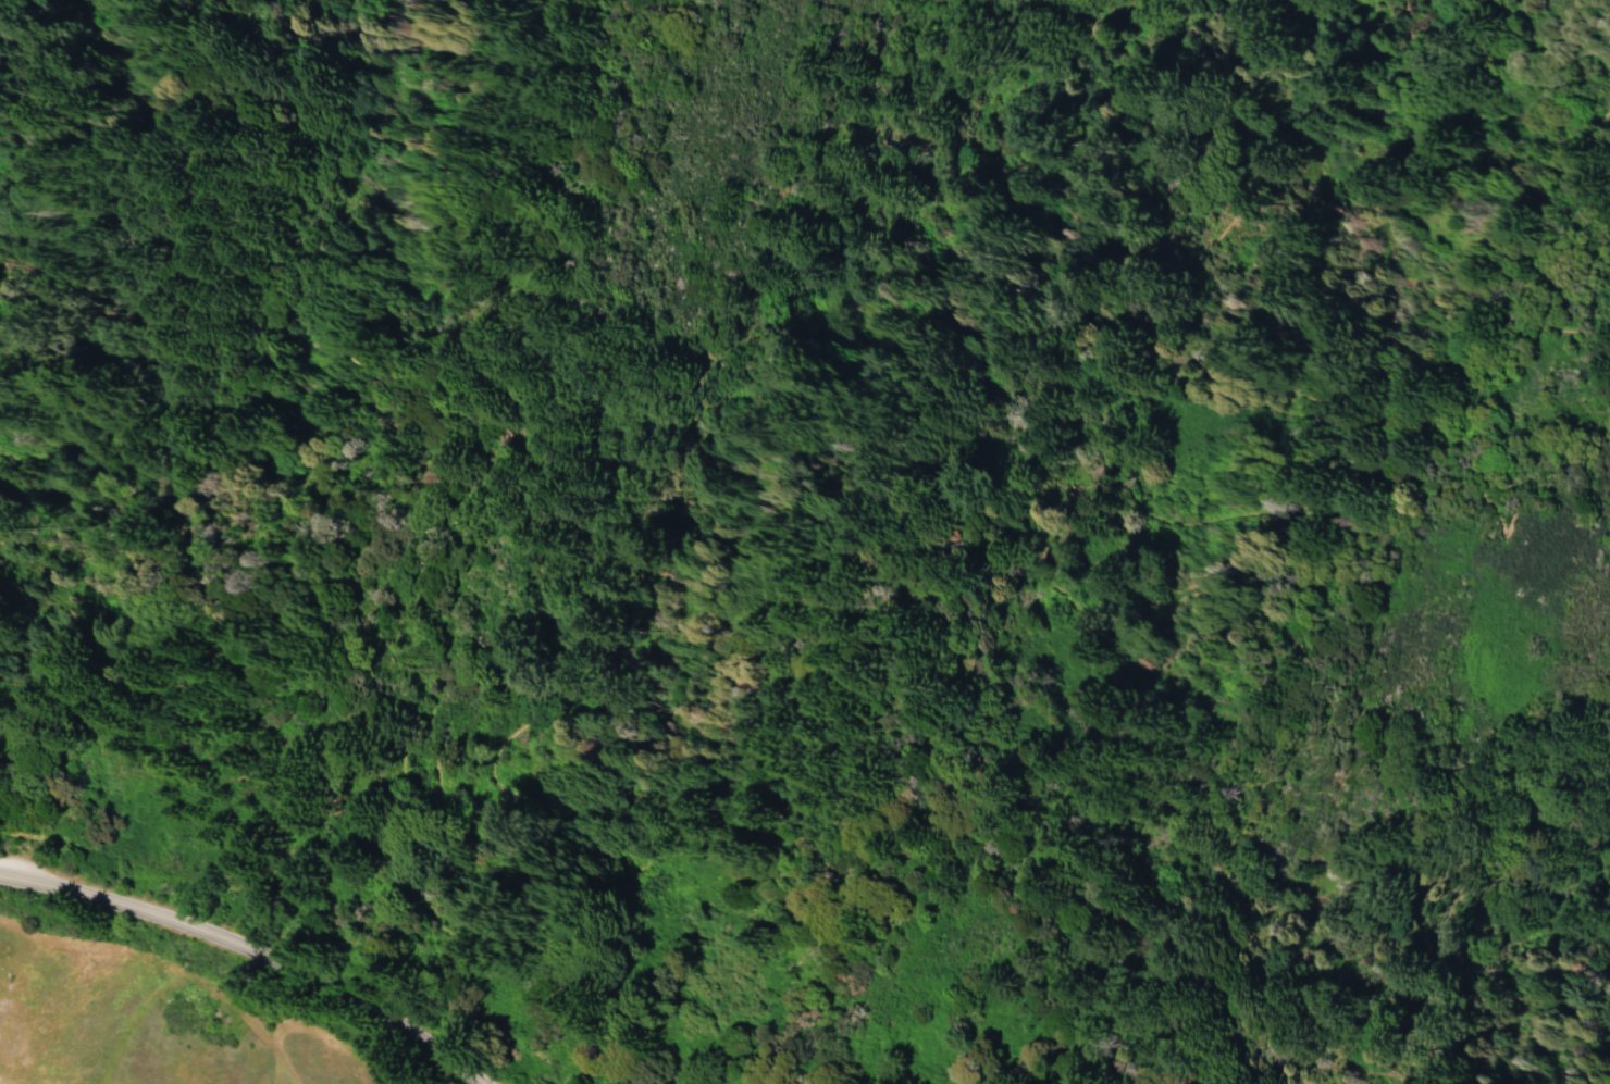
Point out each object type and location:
road: (1568, 148)
road: (507, 223)
road: (1503, 278)
road: (1361, 531)
road: (410, 690)
road: (251, 951)

